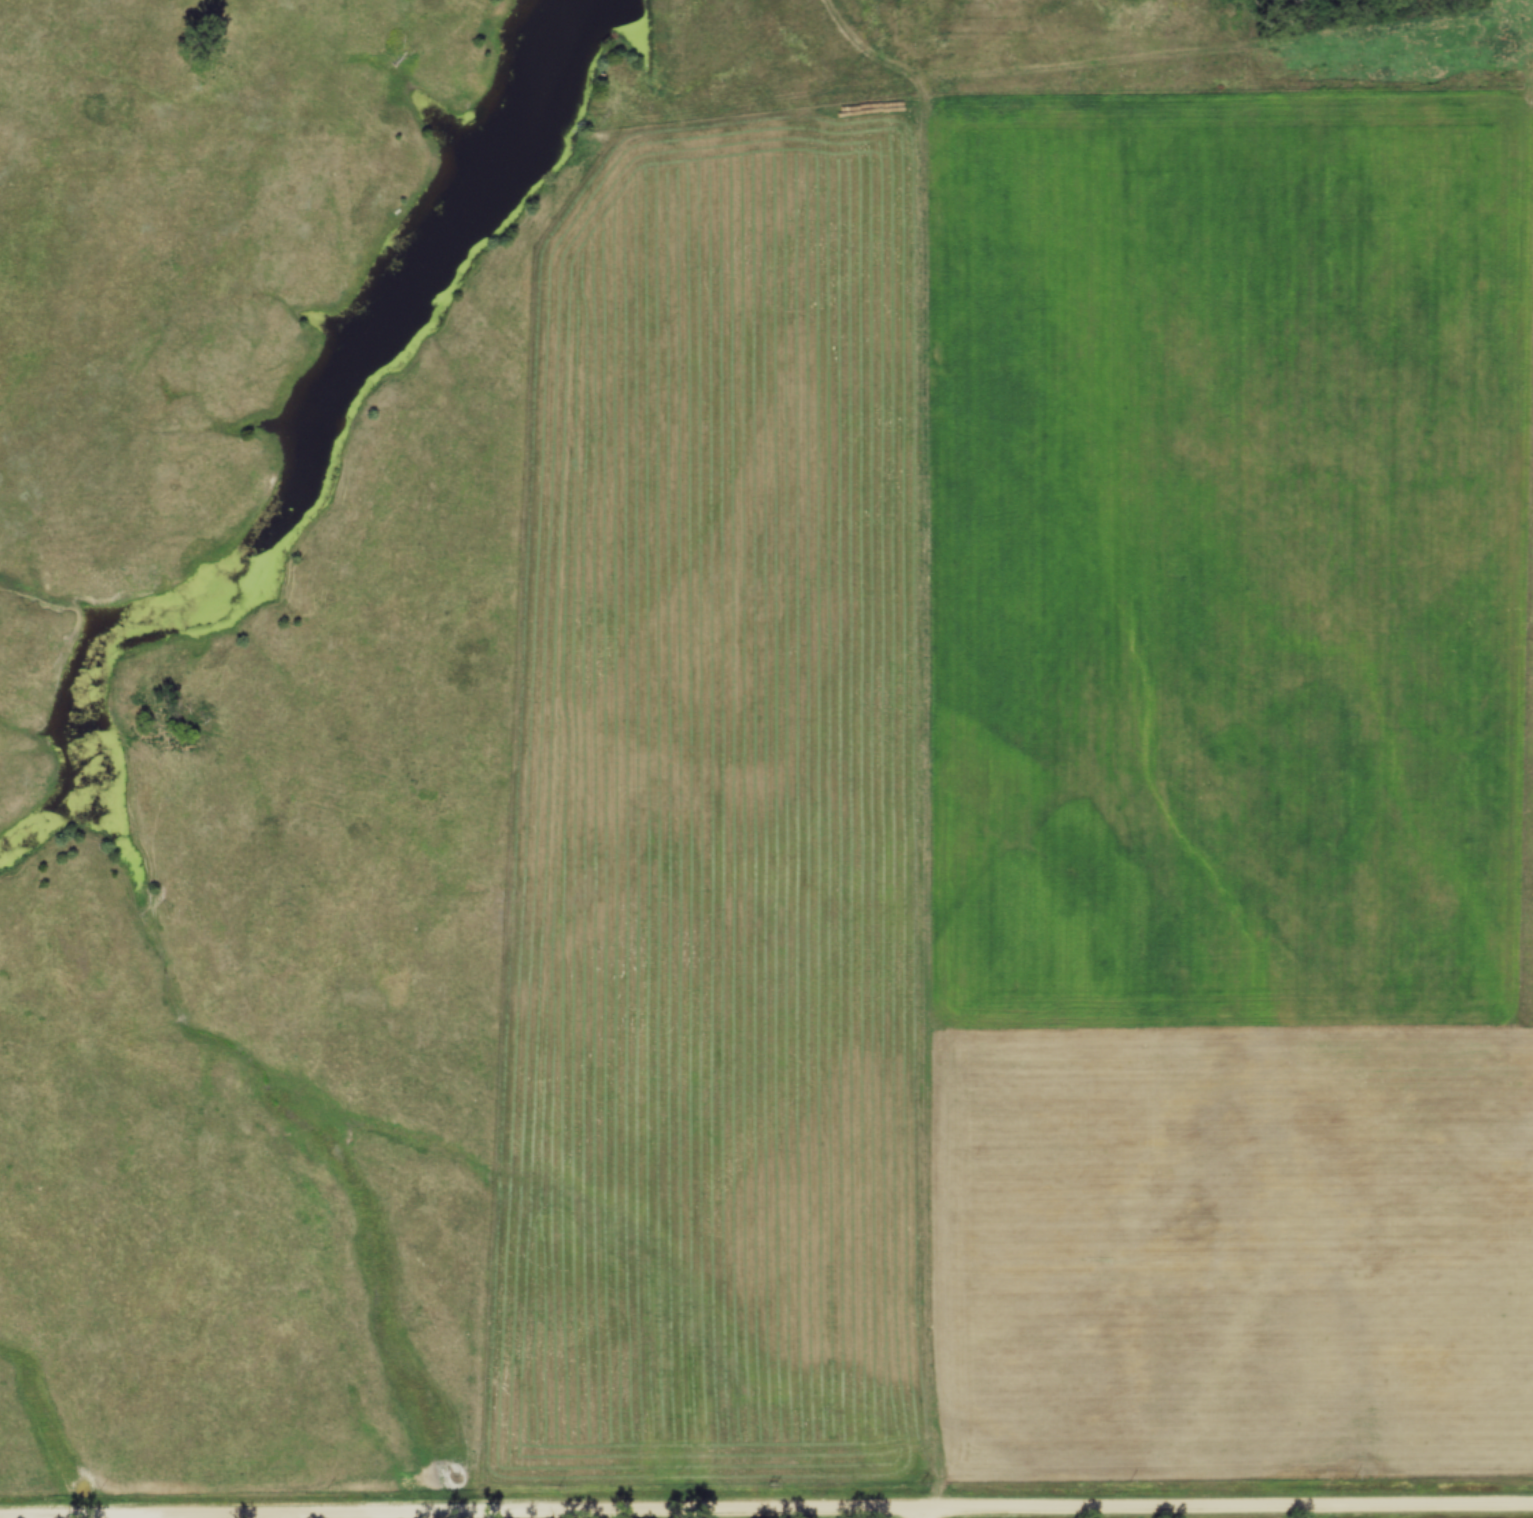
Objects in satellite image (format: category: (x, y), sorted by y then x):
road: (1128, 1515)
road: (930, 1517)

